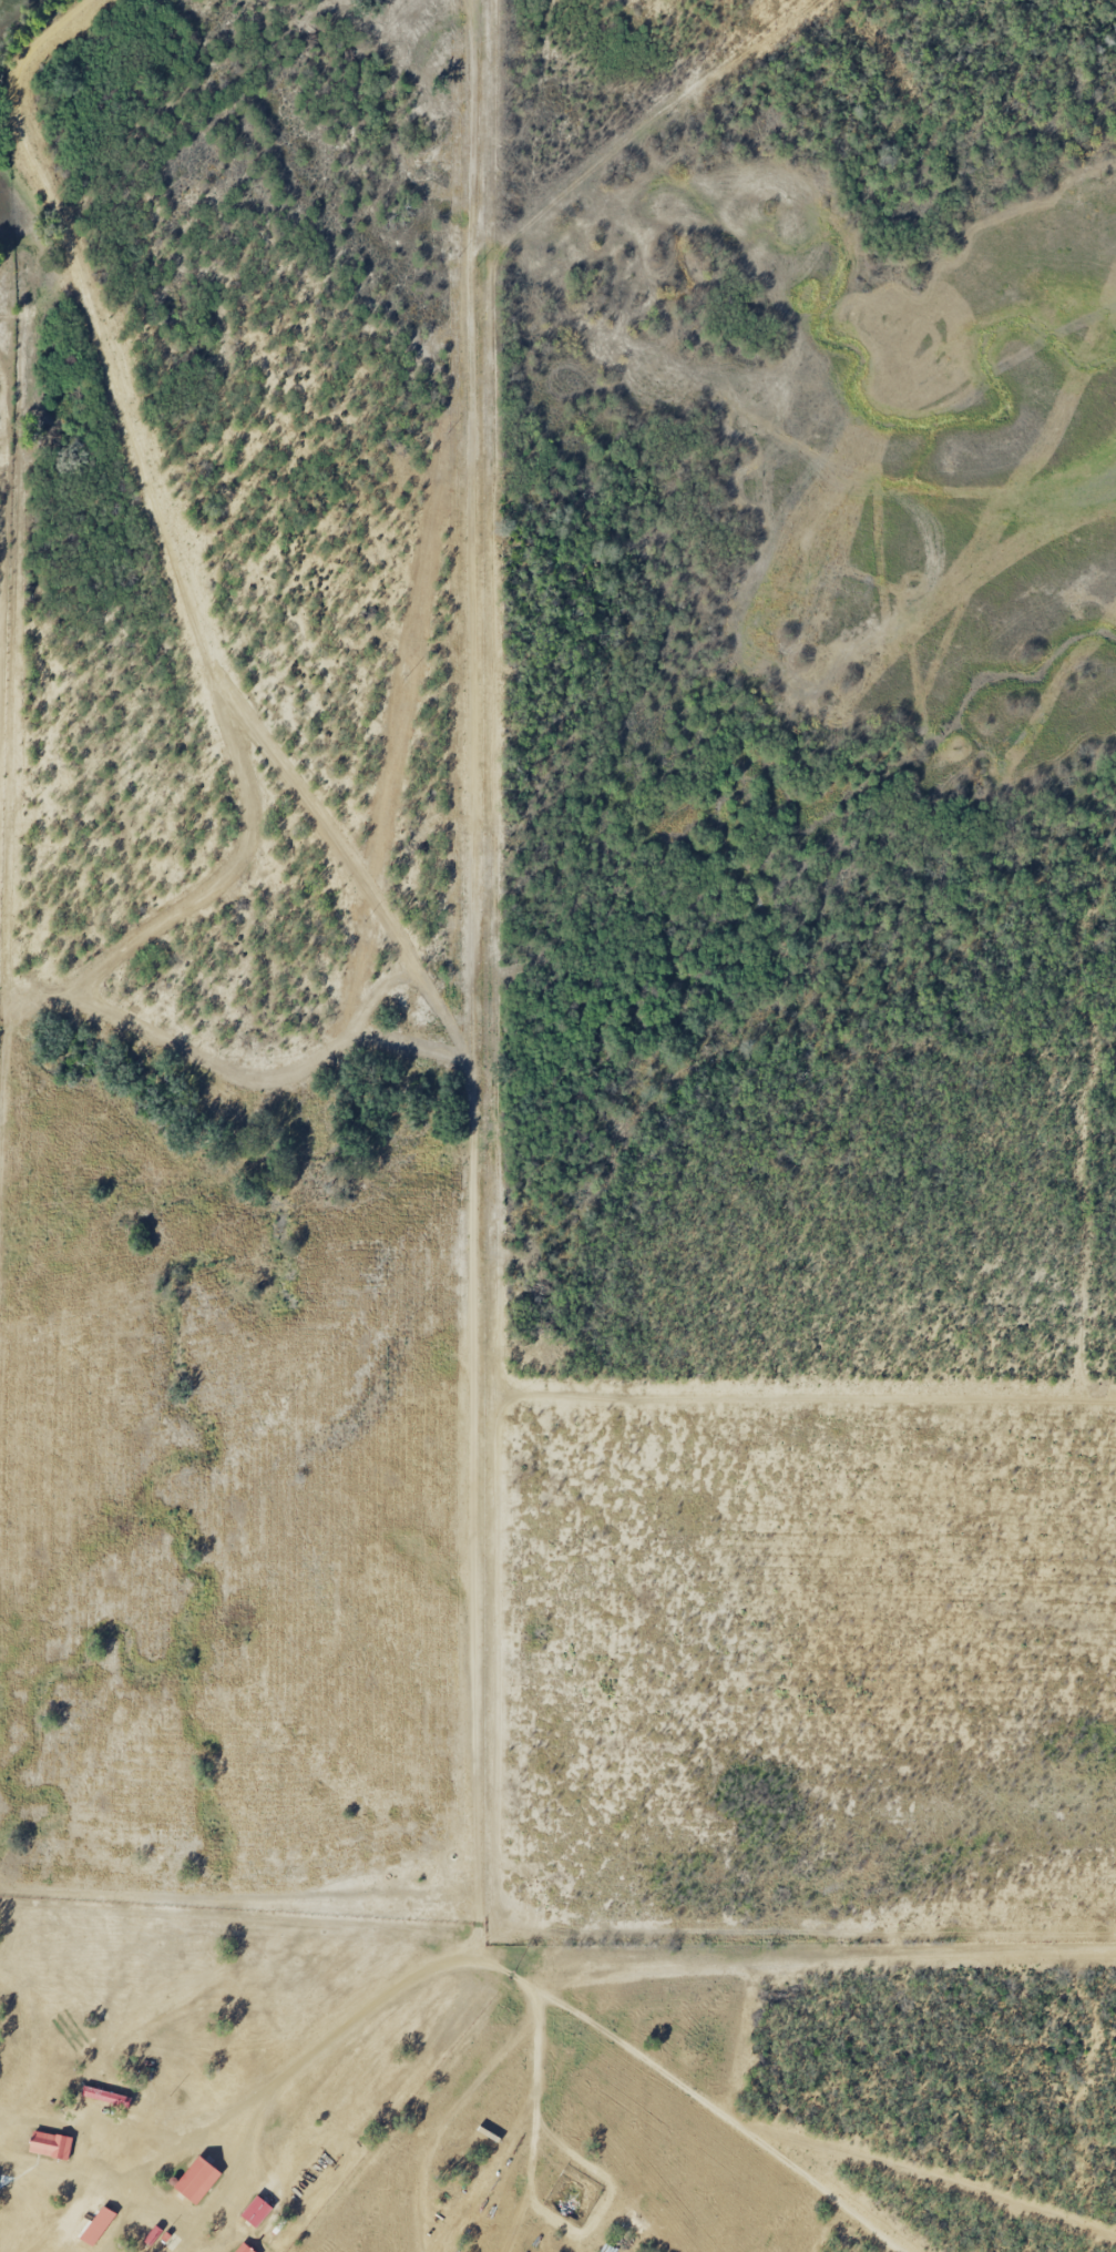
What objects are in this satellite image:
road: (556, 2000)
building: (104, 2096)
building: (50, 2144)
road: (100, 2179)
building: (195, 2179)
building: (255, 2211)
building: (96, 2222)
building: (243, 2248)

